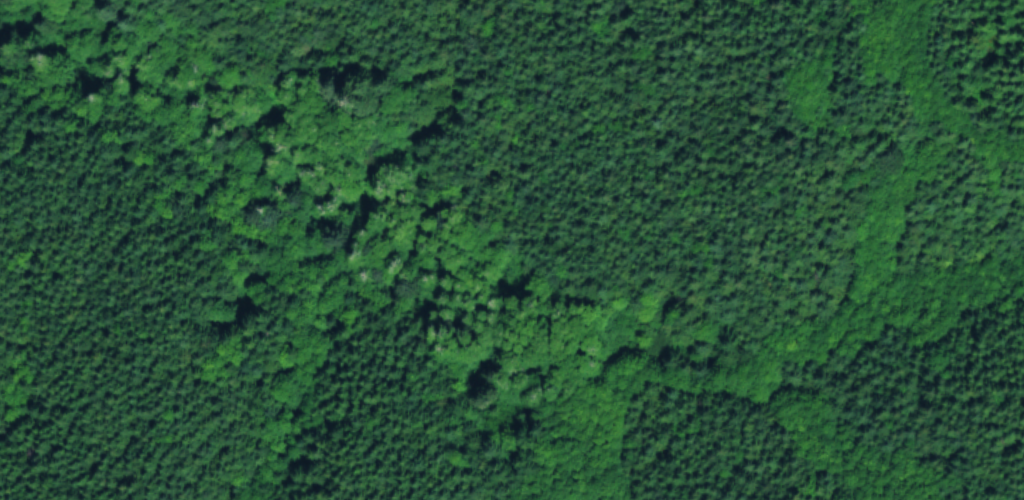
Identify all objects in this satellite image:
road: (960, 81)

